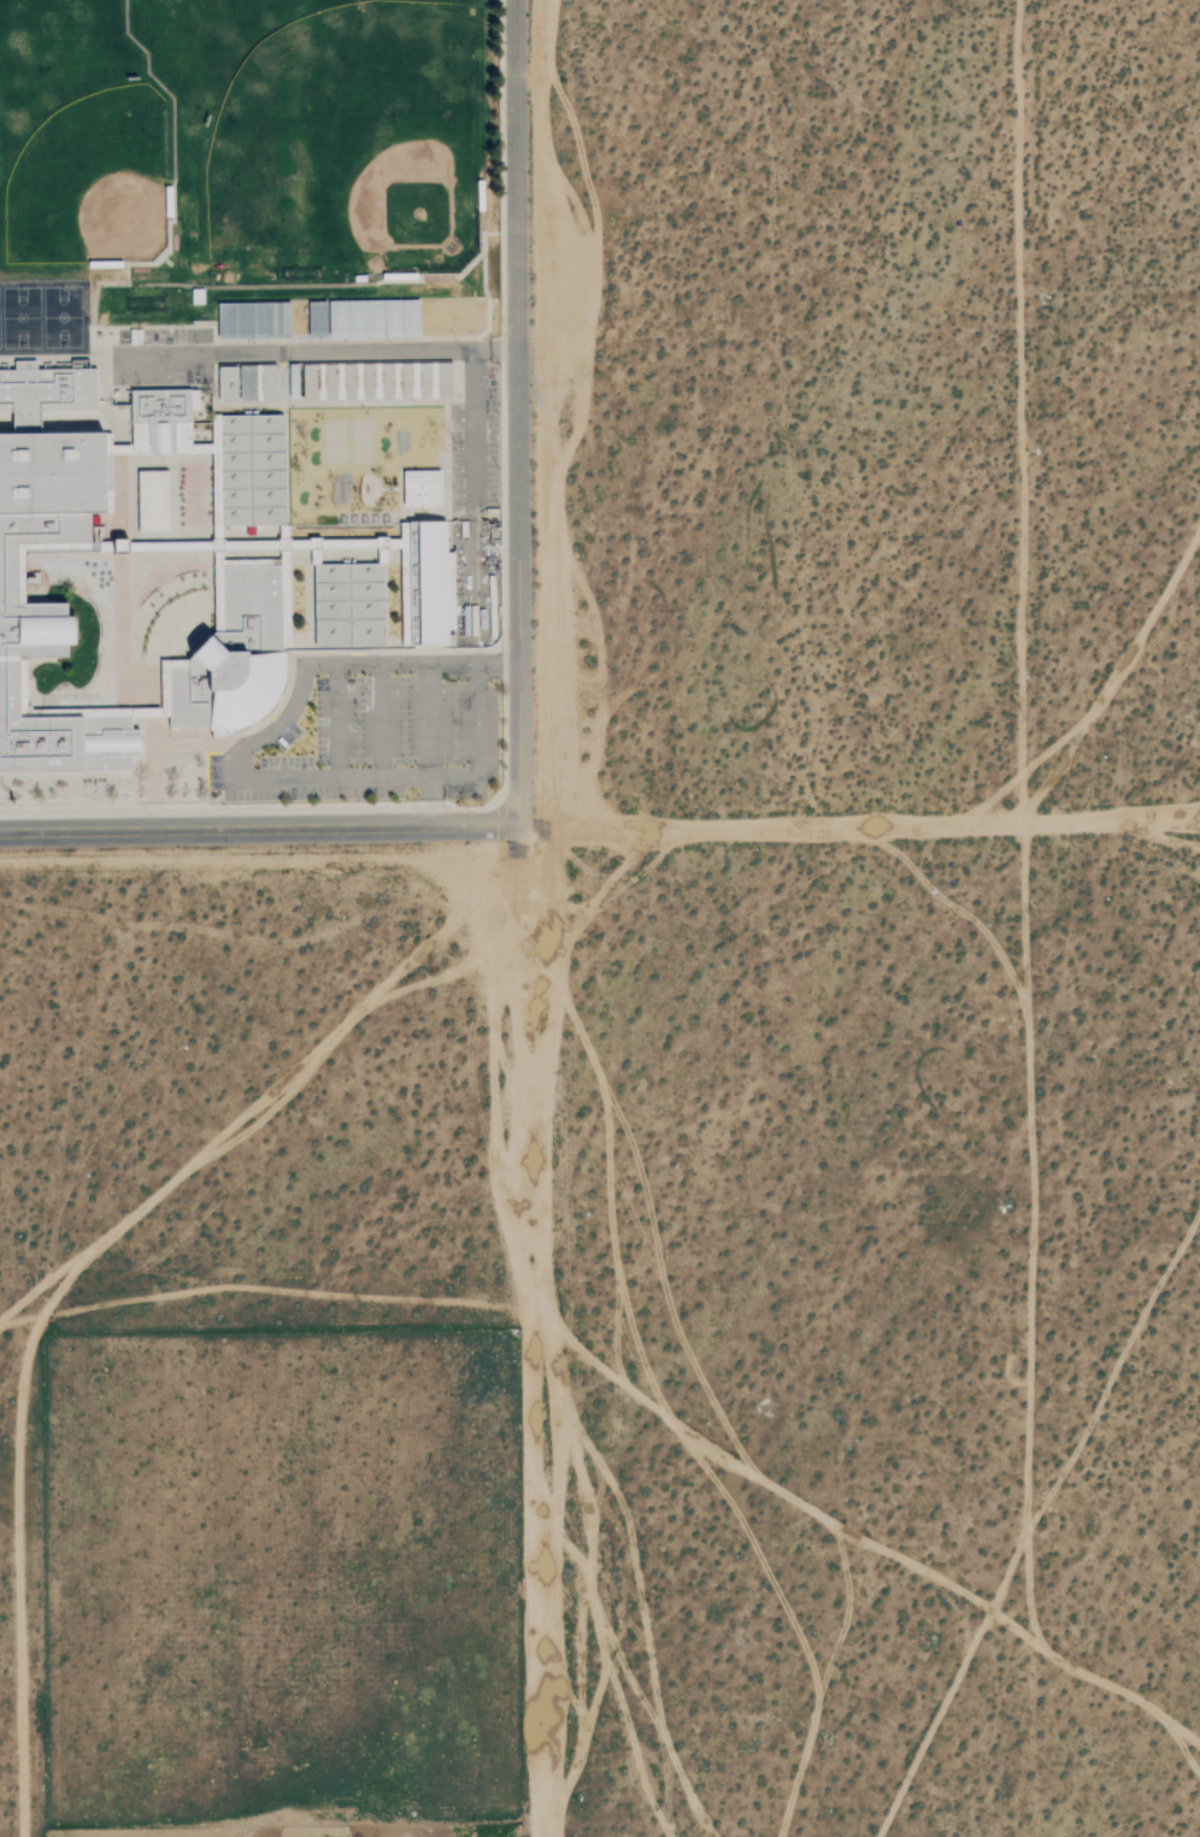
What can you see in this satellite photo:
park: (259, 151)
building: (318, 320)
road: (316, 351)
building: (269, 383)
building: (229, 384)
road: (518, 412)
building: (163, 420)
road: (475, 473)
building: (423, 489)
building: (154, 500)
building: (13, 578)
building: (425, 584)
building: (351, 606)
road: (328, 665)
road: (496, 665)
road: (425, 720)
road: (334, 722)
road: (378, 722)
road: (398, 777)
road: (427, 801)
road: (859, 828)
road: (259, 830)
road: (525, 1331)

